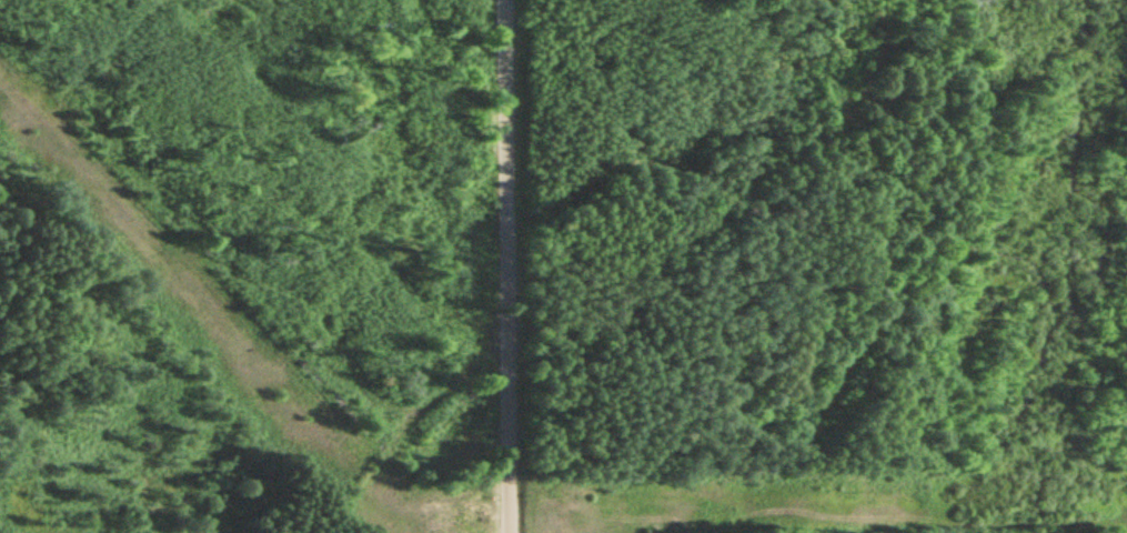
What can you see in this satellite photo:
road: (511, 265)

